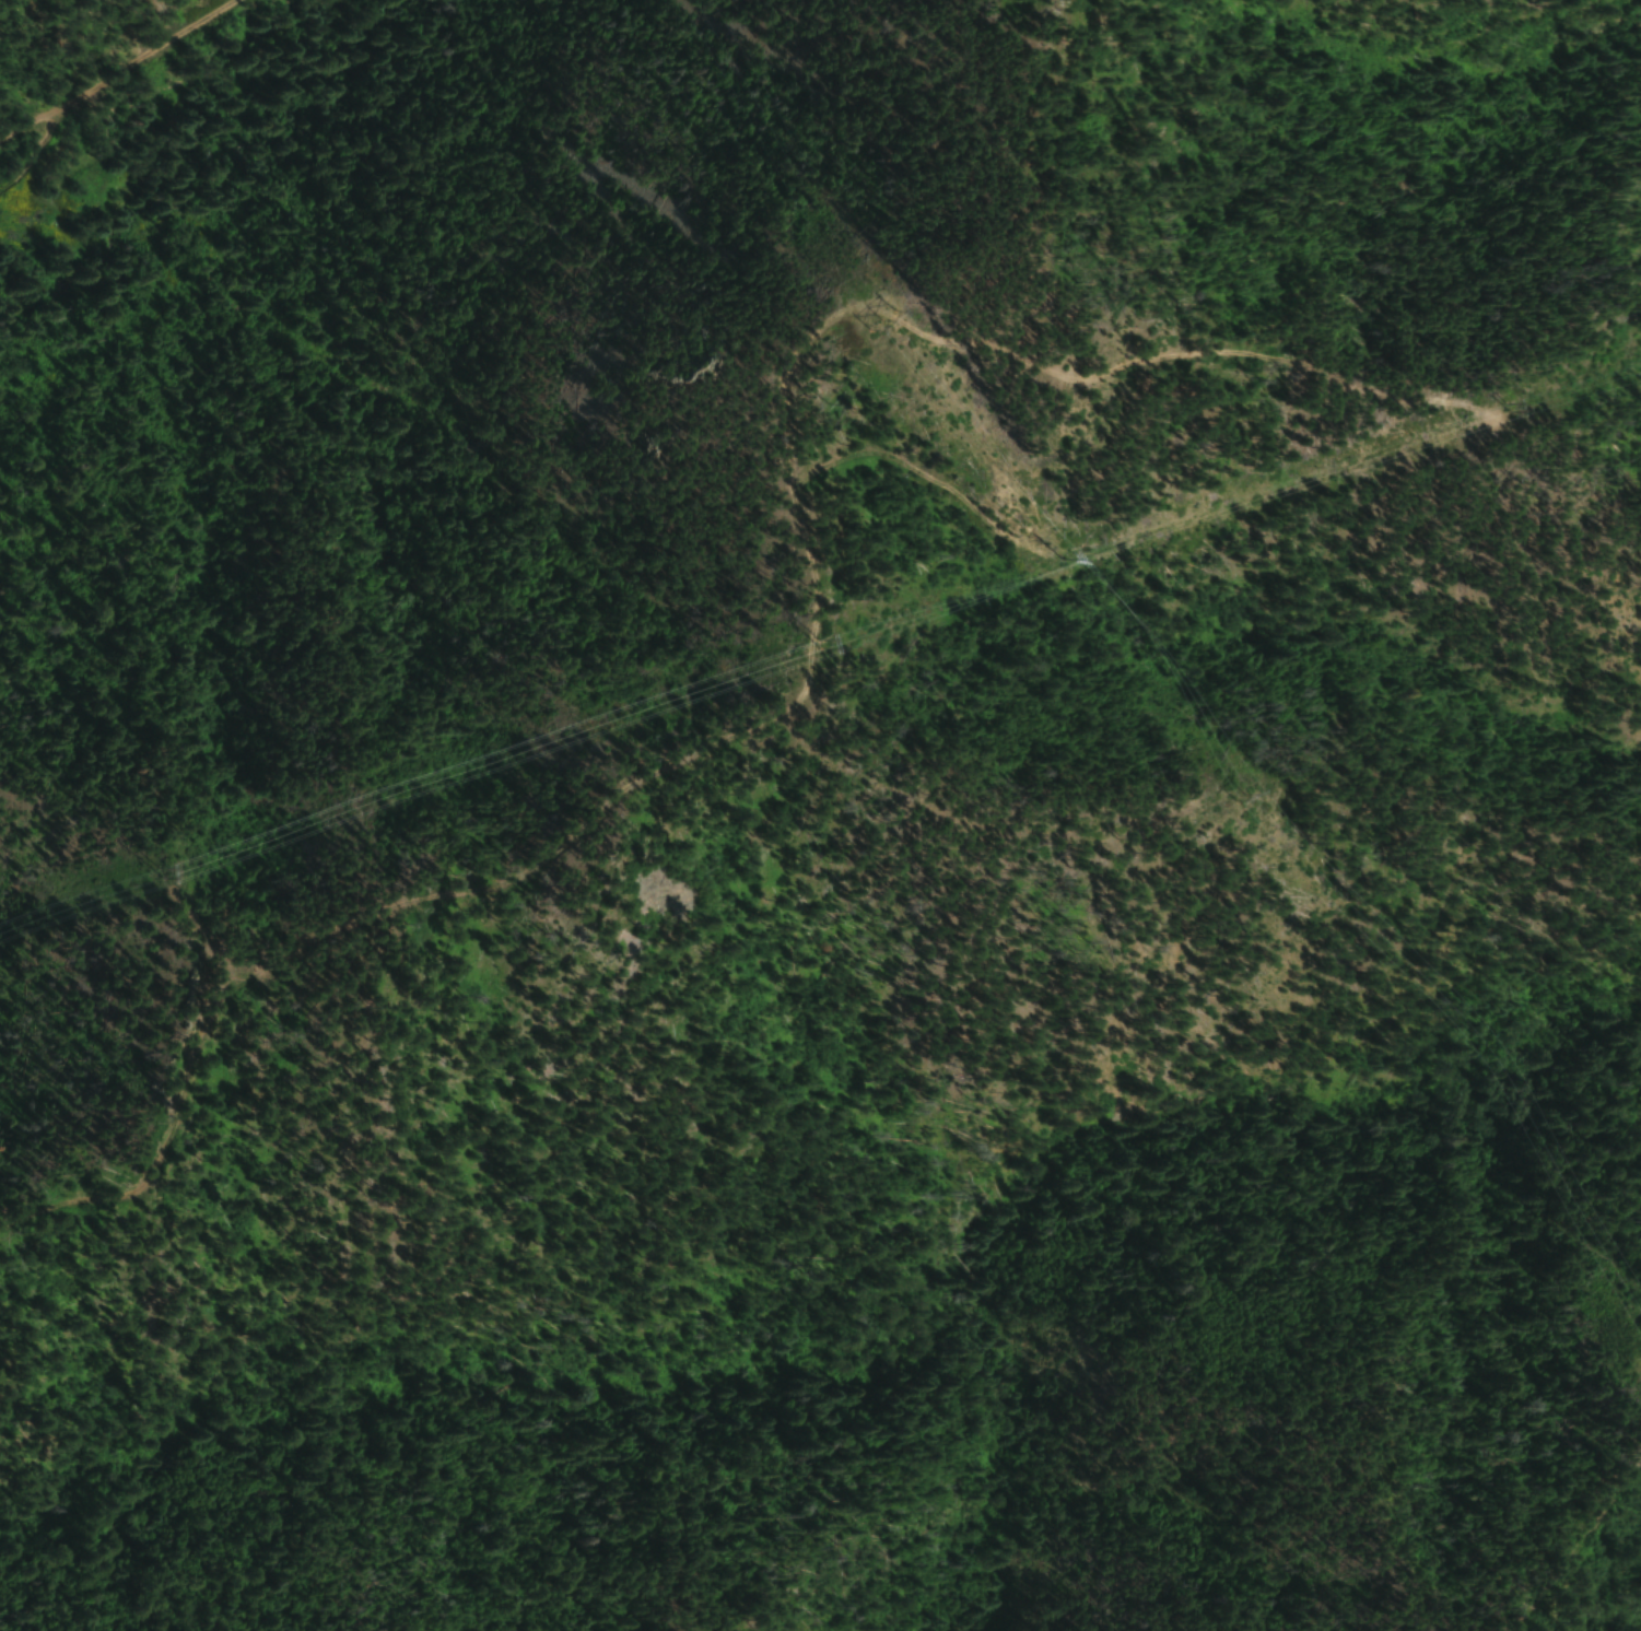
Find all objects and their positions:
road: (127, 83)

